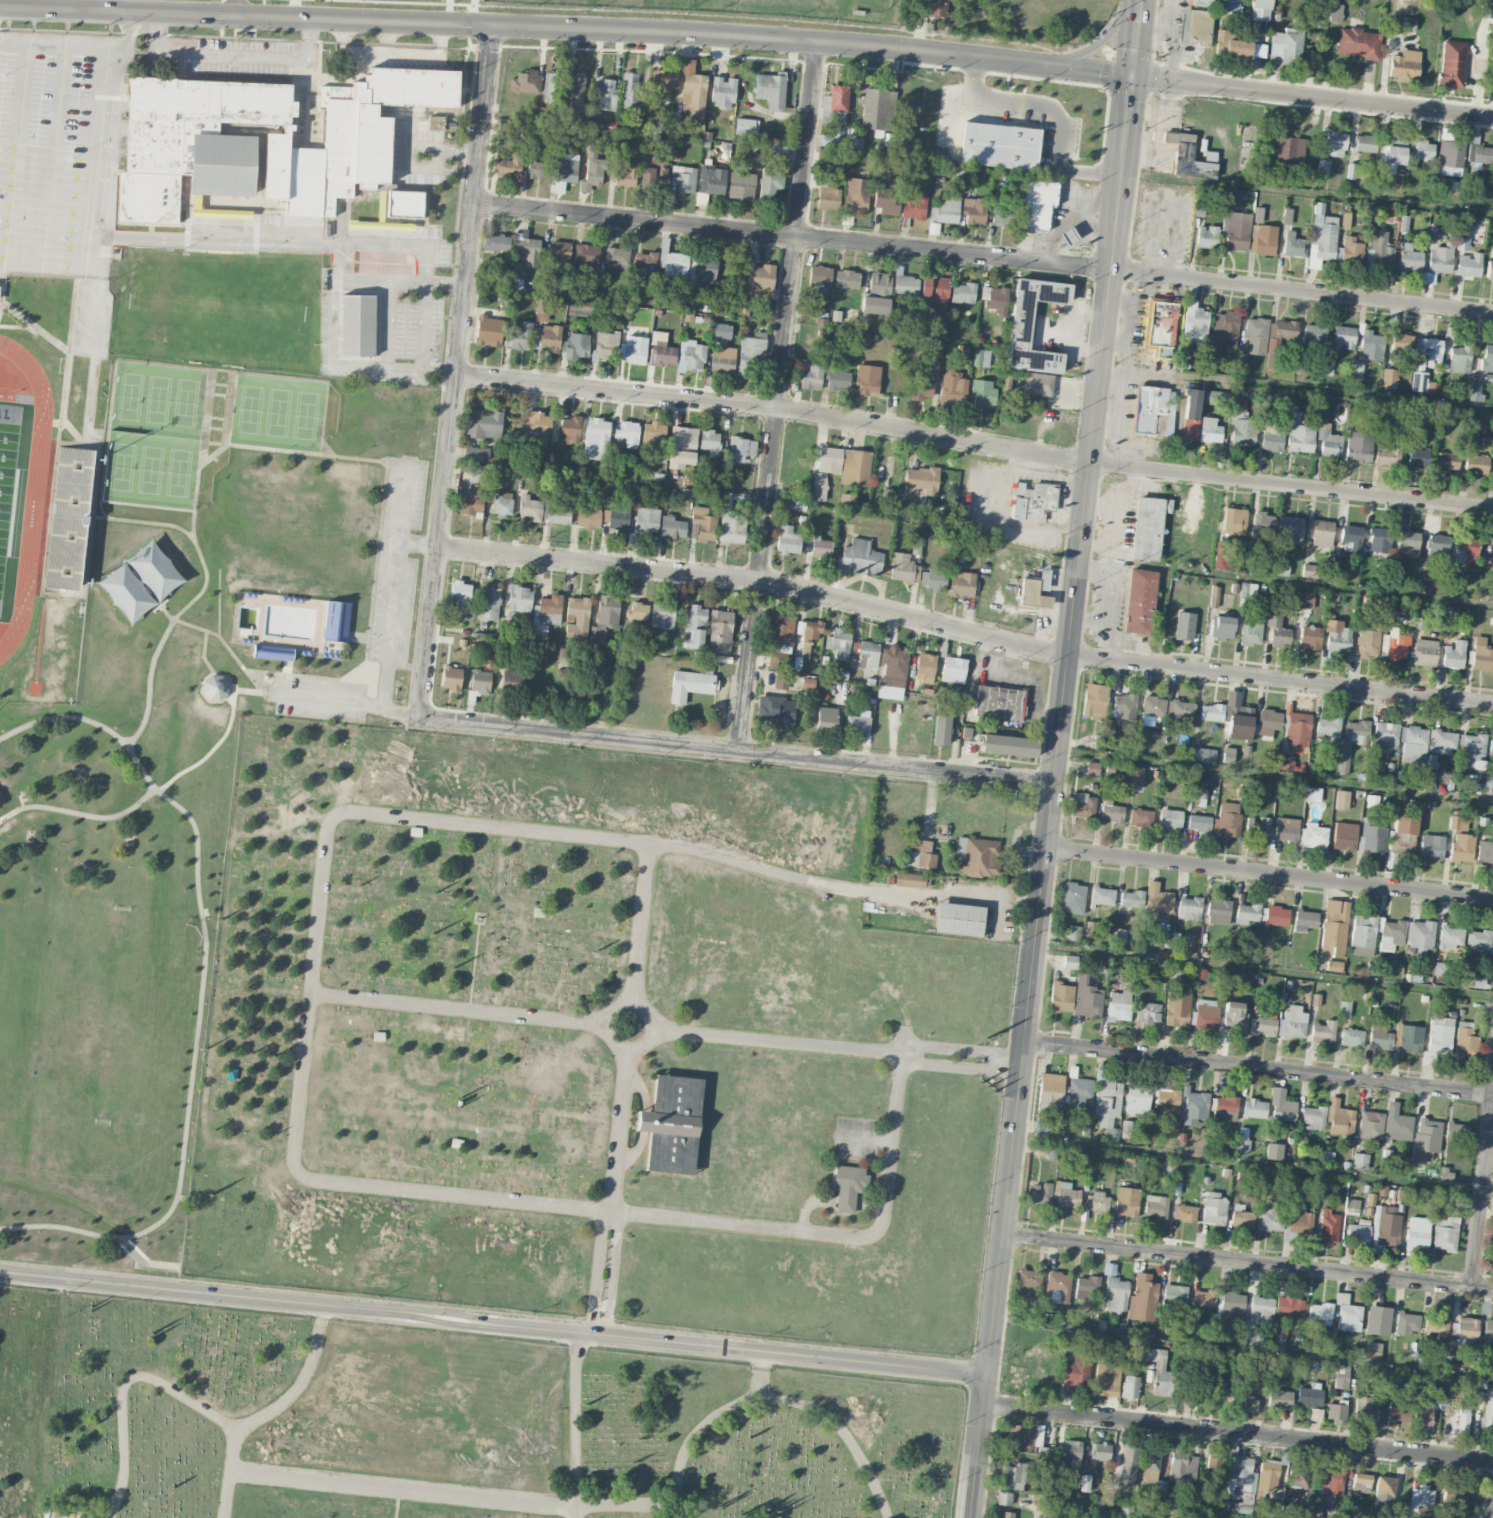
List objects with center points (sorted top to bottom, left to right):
building: (1201, 2)
road: (71, 5)
building: (1231, 6)
road: (236, 8)
building: (934, 8)
building: (1260, 10)
building: (1335, 12)
building: (1408, 24)
road: (567, 29)
building: (1191, 35)
building: (1357, 42)
road: (58, 45)
building: (1237, 45)
building: (1286, 45)
road: (232, 55)
building: (1452, 63)
building: (1404, 65)
traffic signals: (1134, 77)
building: (524, 82)
building: (663, 84)
building: (550, 87)
building: (692, 89)
building: (771, 89)
building: (575, 91)
building: (629, 91)
building: (722, 92)
building: (603, 94)
road: (1313, 97)
road: (1056, 106)
building: (877, 109)
building: (834, 115)
building: (746, 127)
building: (273, 134)
building: (1365, 143)
building: (1335, 144)
building: (998, 146)
building: (1421, 149)
building: (1289, 150)
building: (1479, 155)
building: (1189, 157)
building: (1390, 157)
building: (1450, 158)
building: (221, 163)
building: (508, 163)
building: (1323, 166)
building: (566, 167)
building: (537, 170)
building: (592, 172)
building: (653, 173)
building: (626, 175)
building: (683, 178)
building: (712, 179)
building: (770, 183)
road: (101, 184)
building: (741, 185)
building: (856, 195)
building: (828, 196)
building: (887, 200)
building: (1231, 201)
building: (1036, 203)
building: (404, 204)
building: (914, 205)
building: (945, 210)
building: (974, 211)
building: (1001, 215)
building: (933, 228)
building: (1235, 230)
building: (1435, 231)
building: (1462, 234)
building: (1321, 235)
building: (1206, 236)
building: (1262, 239)
road: (263, 240)
building: (496, 243)
building: (1293, 245)
building: (1351, 250)
building: (1378, 250)
building: (527, 251)
building: (559, 251)
road: (983, 254)
building: (586, 257)
building: (616, 257)
building: (1410, 257)
building: (1440, 258)
building: (645, 262)
building: (673, 264)
building: (1469, 265)
building: (704, 270)
building: (1489, 270)
building: (819, 275)
building: (1428, 278)
building: (846, 279)
road: (362, 281)
building: (760, 281)
road: (408, 282)
road: (446, 284)
building: (904, 286)
building: (934, 292)
building: (962, 293)
building: (877, 294)
building: (994, 298)
road: (334, 301)
road: (426, 307)
building: (580, 308)
building: (542, 309)
road: (386, 323)
building: (1194, 323)
building: (357, 324)
building: (1020, 327)
building: (1160, 327)
building: (1285, 330)
building: (488, 331)
building: (721, 331)
building: (1222, 333)
building: (520, 335)
building: (1255, 335)
building: (1313, 335)
building: (1343, 337)
building: (550, 338)
building: (606, 344)
building: (1401, 344)
building: (577, 345)
building: (1371, 345)
building: (635, 350)
building: (661, 350)
building: (934, 350)
building: (750, 351)
building: (1431, 351)
building: (694, 357)
building: (980, 357)
building: (1460, 358)
building: (1487, 359)
building: (723, 360)
road: (376, 364)
road: (455, 372)
building: (811, 376)
building: (1388, 378)
building: (867, 379)
building: (838, 381)
building: (1418, 381)
building: (921, 383)
building: (1038, 384)
building: (953, 387)
building: (1475, 391)
building: (983, 393)
park: (130, 395)
road: (778, 396)
park: (158, 398)
building: (1217, 398)
park: (186, 401)
building: (1238, 402)
park: (250, 408)
park: (278, 411)
building: (1153, 411)
park: (306, 414)
building: (1191, 414)
building: (484, 424)
building: (537, 426)
building: (569, 430)
building: (1209, 430)
building: (1243, 432)
building: (1298, 432)
building: (653, 434)
building: (626, 435)
building: (596, 439)
building: (1272, 440)
building: (1328, 441)
building: (710, 442)
road: (973, 443)
building: (1358, 446)
building: (682, 447)
road: (264, 448)
building: (741, 448)
building: (1388, 452)
building: (475, 454)
building: (1417, 456)
building: (829, 460)
building: (1447, 461)
building: (1475, 464)
park: (122, 466)
building: (855, 467)
park: (151, 468)
park: (178, 472)
stadium: (48, 475)
building: (920, 482)
building: (818, 486)
park: (12, 492)
building: (471, 499)
building: (847, 500)
road: (1101, 500)
building: (1033, 501)
building: (502, 504)
building: (530, 507)
track: (33, 510)
building: (557, 511)
road: (1113, 514)
building: (587, 515)
building: (68, 517)
building: (618, 518)
building: (646, 519)
building: (1234, 521)
building: (704, 523)
building: (1261, 525)
building: (671, 527)
building: (1148, 527)
building: (731, 528)
building: (1289, 530)
building: (1319, 532)
road: (192, 537)
building: (1351, 537)
building: (788, 540)
building: (1379, 540)
building: (1407, 543)
road: (418, 545)
building: (1437, 545)
building: (821, 547)
building: (1464, 548)
building: (859, 558)
park: (154, 568)
building: (903, 568)
building: (1309, 571)
building: (933, 579)
road: (395, 584)
building: (961, 584)
building: (1035, 590)
building: (1247, 590)
park: (126, 592)
building: (460, 593)
building: (1214, 596)
building: (519, 598)
building: (1305, 599)
building: (1139, 601)
building: (489, 603)
building: (638, 611)
building: (546, 612)
building: (662, 615)
building: (577, 617)
building: (604, 617)
building: (337, 620)
building: (695, 625)
building: (1184, 626)
building: (1221, 627)
building: (1277, 628)
building: (780, 630)
building: (719, 631)
road: (963, 631)
building: (1250, 631)
building: (809, 634)
building: (1336, 635)
building: (1309, 637)
building: (1368, 641)
road: (225, 643)
building: (838, 643)
building: (1394, 645)
building: (273, 651)
building: (1424, 652)
building: (866, 654)
building: (1453, 654)
building: (1481, 655)
building: (778, 660)
building: (893, 665)
building: (924, 668)
building: (953, 669)
building: (451, 678)
building: (509, 679)
building: (781, 680)
building: (480, 681)
road: (151, 682)
building: (690, 685)
building: (214, 687)
road: (252, 691)
road: (344, 699)
building: (1094, 701)
building: (998, 702)
building: (1123, 706)
building: (1152, 709)
building: (1180, 709)
building: (774, 712)
building: (1211, 712)
building: (826, 717)
road: (230, 718)
building: (1237, 718)
building: (1268, 722)
building: (856, 724)
building: (1328, 728)
building: (941, 729)
building: (1298, 732)
building: (1356, 732)
building: (1385, 736)
building: (1441, 742)
building: (1412, 743)
building: (1008, 745)
road: (736, 750)
building: (1490, 750)
building: (1472, 751)
building: (1227, 754)
building: (1203, 755)
road: (1057, 759)
park: (180, 760)
building: (1285, 762)
building: (1092, 768)
building: (1134, 773)
building: (1488, 785)
building: (1312, 794)
building: (1341, 800)
building: (1083, 805)
building: (1110, 811)
road: (80, 813)
building: (1170, 819)
building: (1140, 820)
building: (1227, 820)
building: (1458, 822)
building: (1198, 823)
building: (1257, 828)
building: (1286, 829)
building: (1403, 833)
building: (1313, 835)
building: (1344, 836)
building: (1371, 837)
building: (1432, 846)
building: (1462, 848)
building: (1485, 852)
building: (921, 855)
building: (976, 857)
road: (768, 869)
road: (1270, 874)
building: (909, 880)
building: (1102, 895)
building: (1072, 897)
building: (1131, 898)
building: (1157, 900)
building: (1189, 908)
building: (1218, 912)
building: (1247, 913)
building: (1276, 915)
building: (958, 919)
building: (1304, 920)
building: (1090, 928)
building: (1334, 928)
building: (1072, 933)
building: (1391, 934)
building: (1420, 934)
building: (1362, 935)
building: (1450, 937)
building: (1479, 940)
building: (1070, 961)
building: (1472, 978)
road: (201, 985)
building: (1061, 997)
building: (1086, 997)
road: (626, 1001)
building: (1118, 1005)
building: (1177, 1008)
building: (1344, 1008)
building: (1148, 1012)
park: (111, 1013)
building: (1206, 1014)
building: (1235, 1016)
building: (1292, 1022)
building: (1323, 1031)
building: (1351, 1037)
building: (1379, 1038)
building: (1407, 1038)
building: (1438, 1039)
road: (777, 1041)
building: (1465, 1041)
park: (18, 1044)
park: (586, 1045)
road: (962, 1049)
road: (961, 1068)
road: (1259, 1068)
building: (1051, 1082)
building: (1078, 1092)
building: (1137, 1099)
building: (1167, 1100)
building: (1107, 1102)
building: (1281, 1105)
building: (1194, 1107)
building: (1225, 1108)
building: (1254, 1108)
building: (1313, 1118)
building: (1339, 1118)
building: (671, 1124)
building: (1396, 1124)
building: (1370, 1125)
road: (619, 1127)
building: (1040, 1127)
building: (1456, 1132)
building: (1426, 1139)
building: (1242, 1140)
building: (1274, 1151)
building: (1359, 1161)
building: (1297, 1183)
building: (847, 1186)
building: (1039, 1193)
building: (1064, 1195)
road: (1482, 1195)
building: (1126, 1201)
building: (1097, 1202)
building: (1155, 1206)
building: (1214, 1208)
building: (1184, 1213)
building: (1268, 1216)
building: (1241, 1217)
building: (1298, 1223)
building: (1328, 1227)
building: (1385, 1228)
building: (1418, 1232)
building: (1358, 1233)
building: (1445, 1234)
road: (1248, 1262)
road: (596, 1267)
road: (612, 1269)
building: (1028, 1278)
building: (1058, 1286)
building: (1086, 1286)
building: (1115, 1294)
building: (1142, 1298)
building: (1174, 1298)
building: (1203, 1300)
building: (1231, 1307)
building: (1261, 1308)
building: (1287, 1309)
building: (1320, 1312)
building: (1347, 1314)
building: (1377, 1320)
road: (494, 1321)
building: (1406, 1323)
building: (1437, 1325)
building: (1466, 1328)
building: (1487, 1330)
building: (1252, 1338)
building: (1278, 1341)
building: (1372, 1350)
building: (1159, 1371)
building: (1074, 1373)
building: (1105, 1377)
building: (1341, 1378)
building: (1130, 1387)
building: (1197, 1388)
building: (1310, 1395)
building: (1279, 1399)
building: (1249, 1405)
building: (1362, 1410)
building: (1422, 1411)
building: (1336, 1413)
building: (1486, 1413)
building: (1396, 1414)
building: (1462, 1420)
park: (460, 1426)
building: (1024, 1434)
road: (1238, 1434)
building: (1100, 1451)
building: (1071, 1452)
building: (1152, 1459)
building: (1215, 1459)
building: (1130, 1465)
building: (1183, 1468)
building: (1241, 1475)
building: (1268, 1476)
building: (1298, 1476)
building: (1083, 1482)
building: (1155, 1483)
building: (1331, 1483)
building: (1361, 1483)
building: (1293, 1492)
building: (1382, 1497)
building: (1421, 1497)
building: (1004, 1498)
building: (1453, 1498)
road: (1489, 1512)
building: (1008, 1514)

